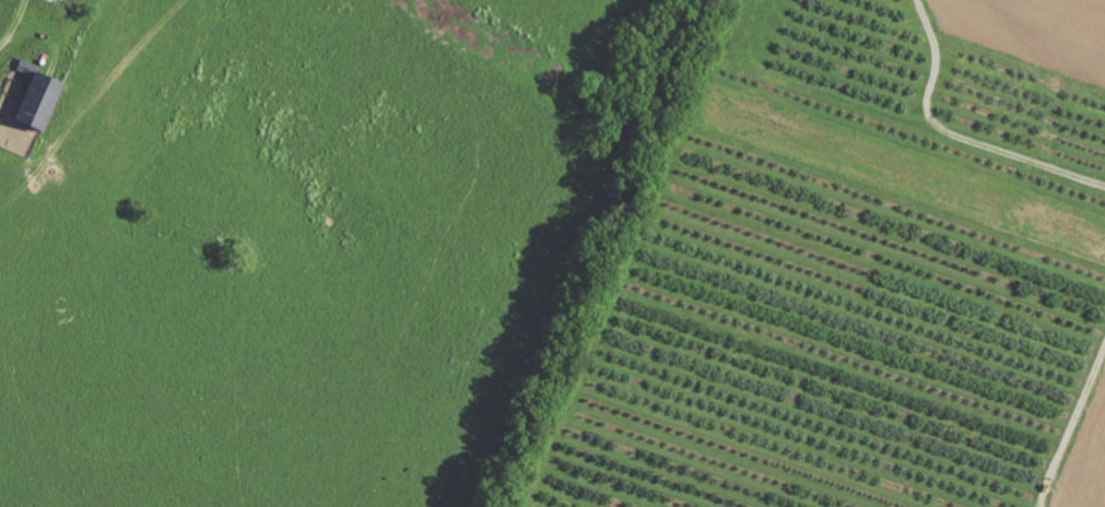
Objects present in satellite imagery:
road: (16, 24)
building: (31, 104)
road: (963, 132)
park: (873, 262)
road: (1075, 436)

